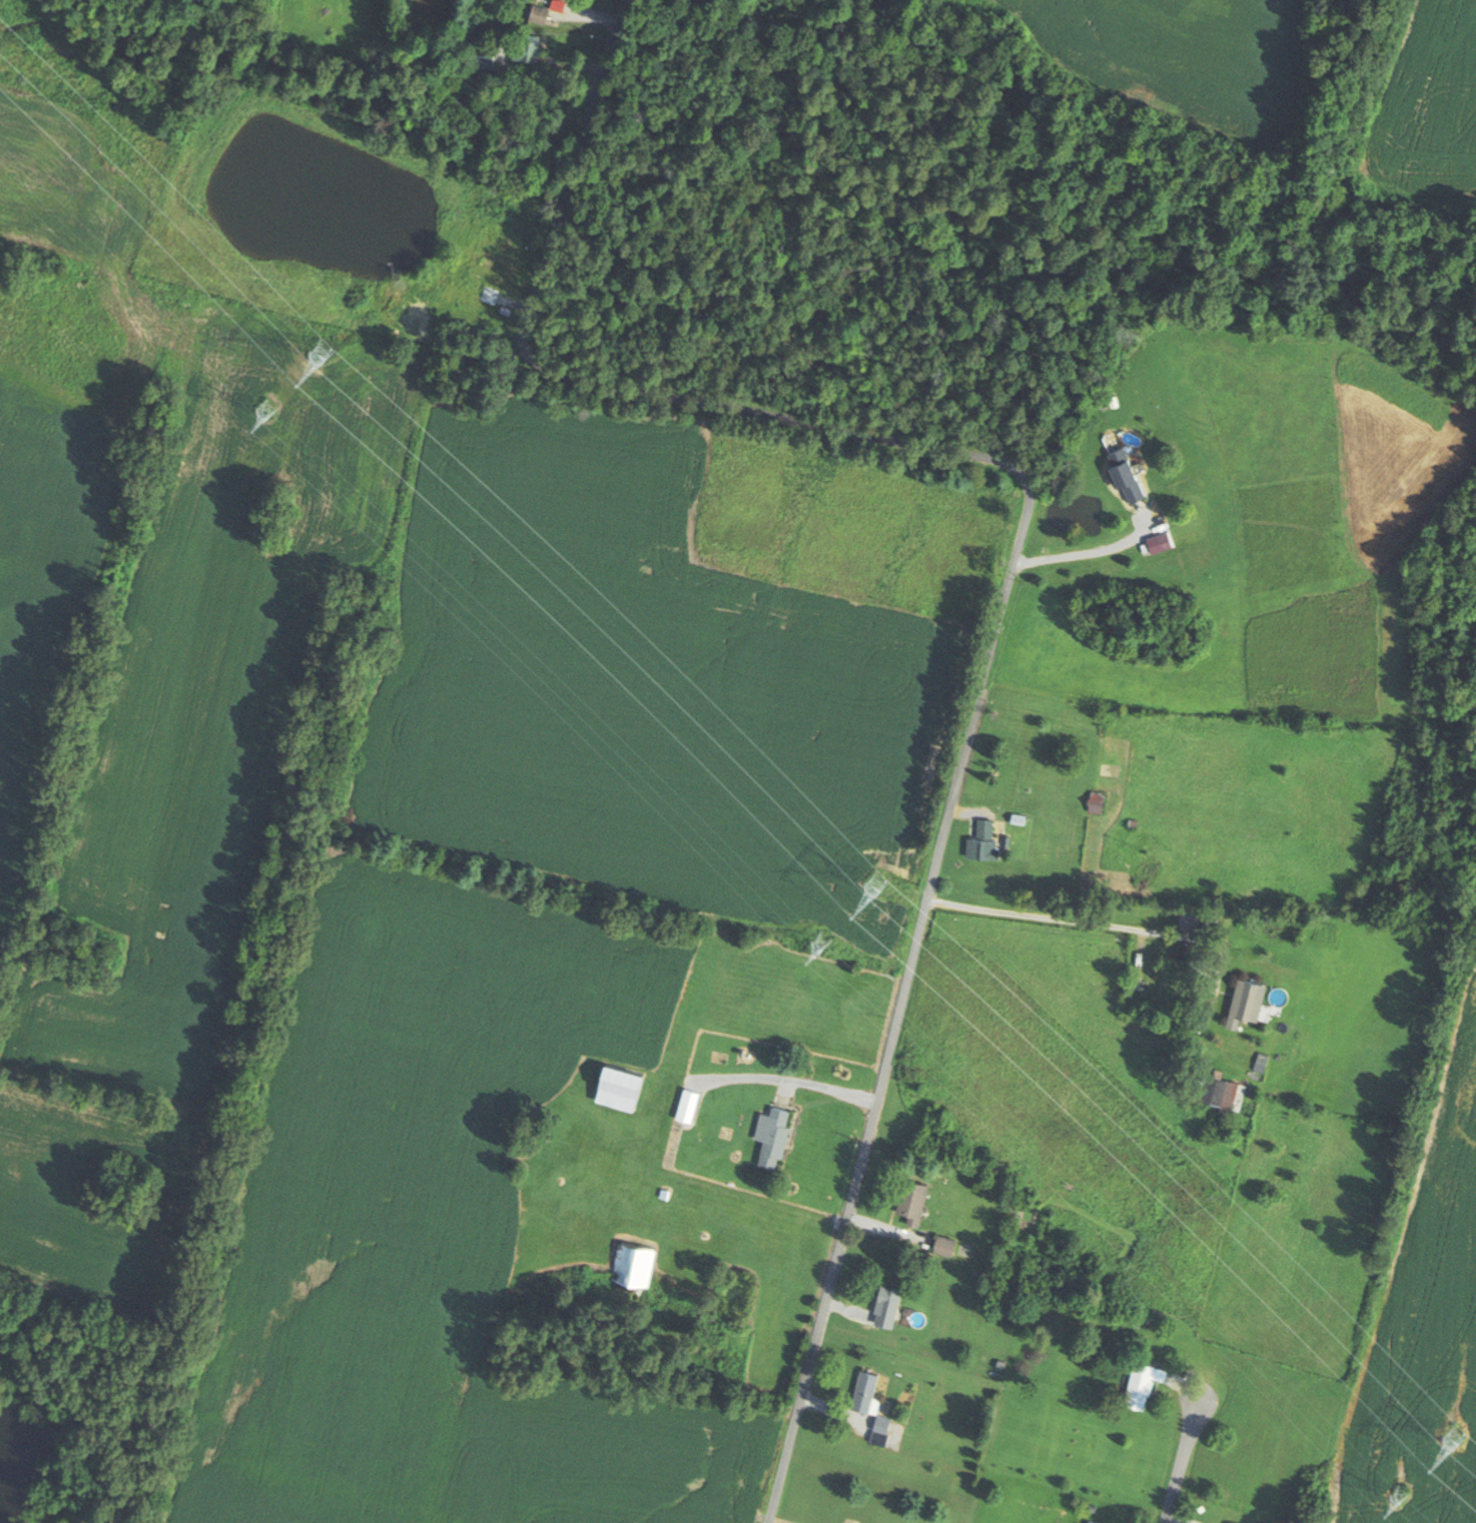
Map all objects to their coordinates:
building: (541, 15)
building: (528, 50)
building: (491, 62)
building: (502, 265)
building: (493, 296)
building: (395, 302)
power tower: (329, 353)
power tower: (268, 410)
building: (1130, 475)
road: (1012, 574)
building: (1098, 802)
building: (986, 841)
power tower: (878, 882)
power tower: (825, 941)
building: (1251, 998)
building: (1263, 1063)
building: (627, 1080)
building: (1227, 1094)
building: (690, 1104)
building: (775, 1135)
building: (915, 1201)
building: (635, 1263)
building: (890, 1305)
building: (1142, 1384)
building: (868, 1391)
building: (885, 1424)
power tower: (1456, 1435)
road: (1183, 1457)
power tower: (1403, 1495)
building: (1092, 1522)

